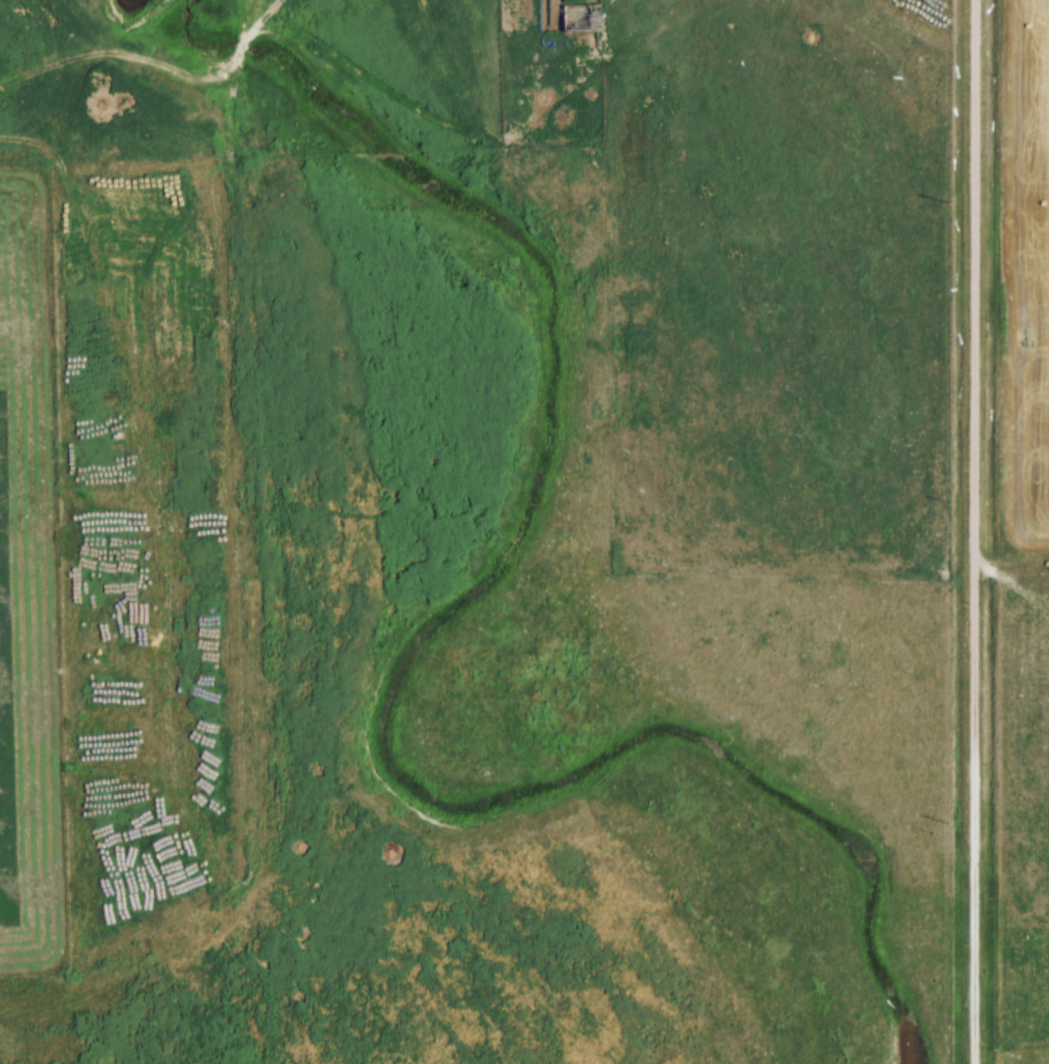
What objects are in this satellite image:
building: (580, 18)
road: (975, 531)

